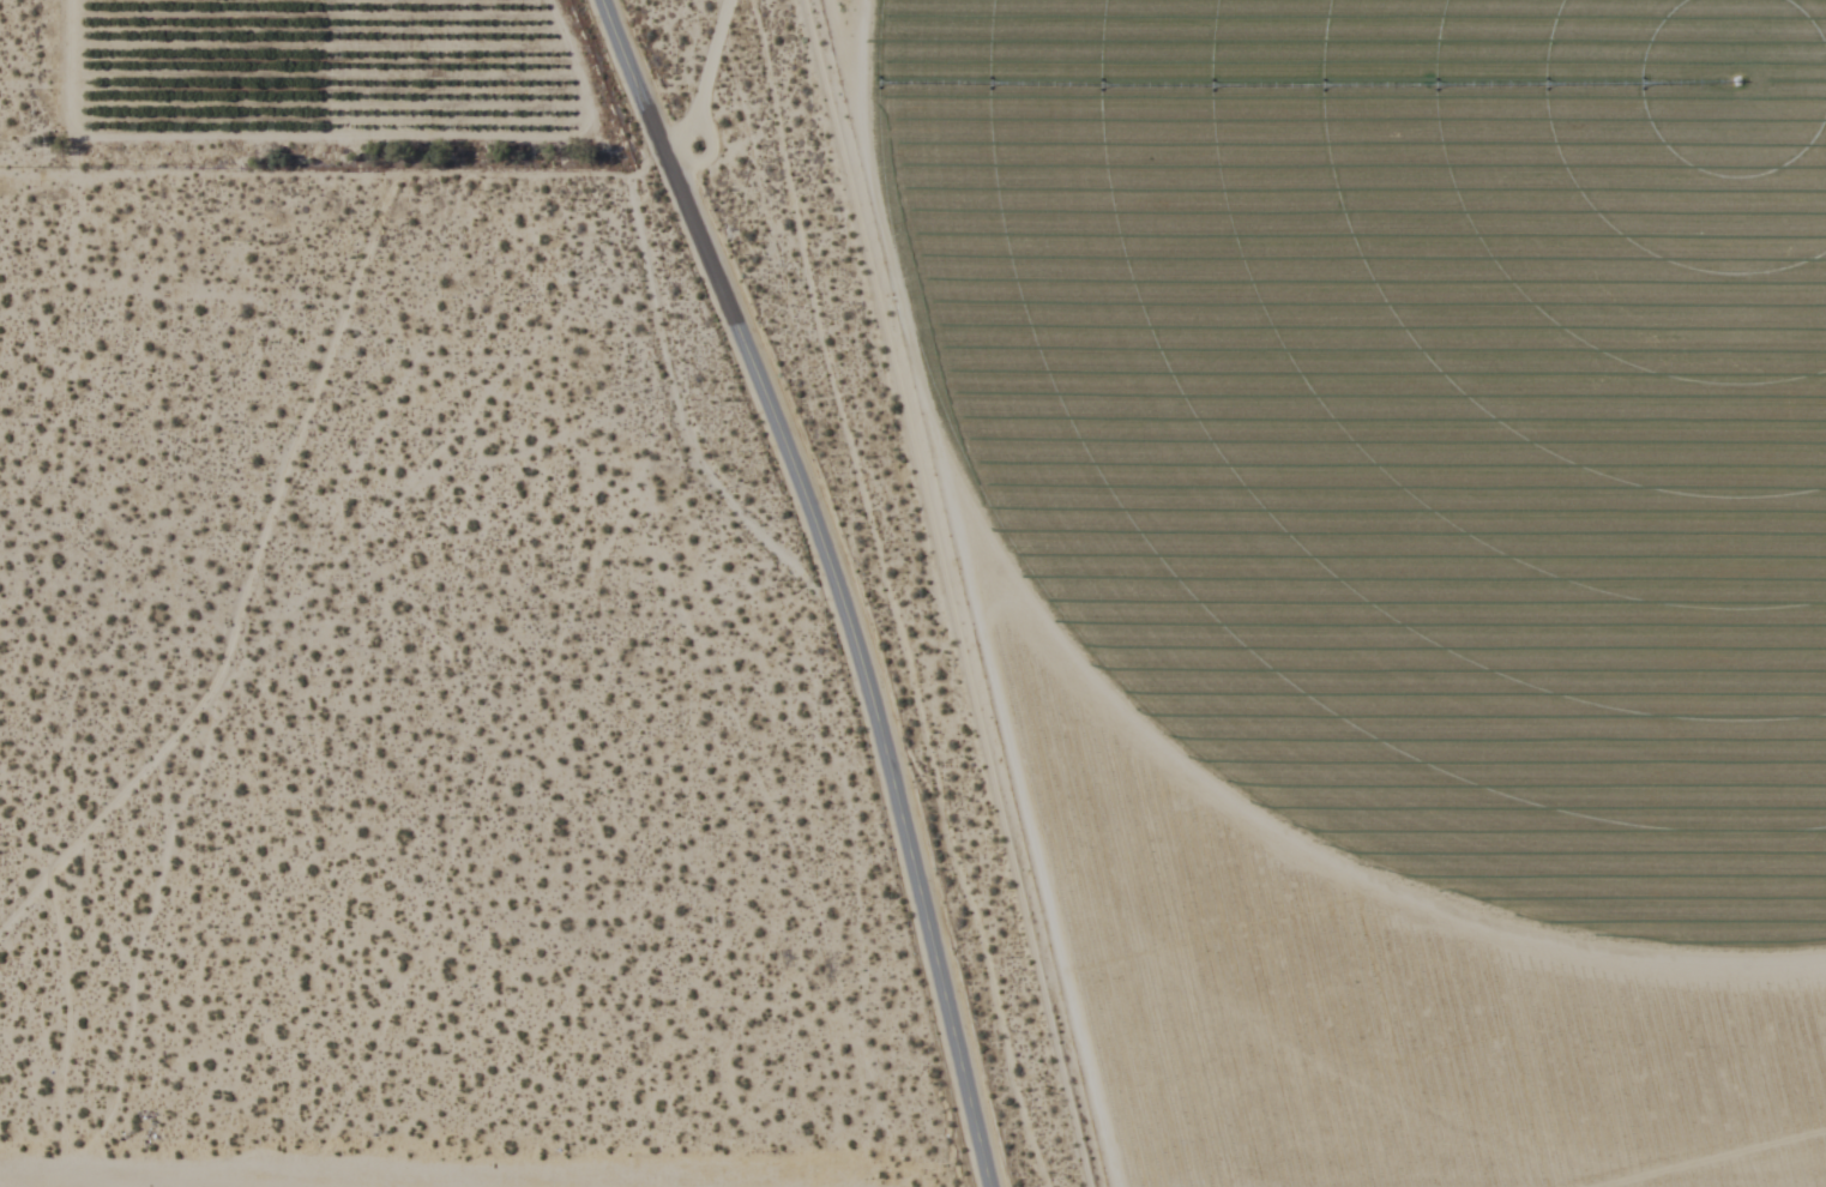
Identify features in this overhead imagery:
road: (26, 168)
crop: (1396, 418)
road: (833, 580)
building: (1173, 1161)

